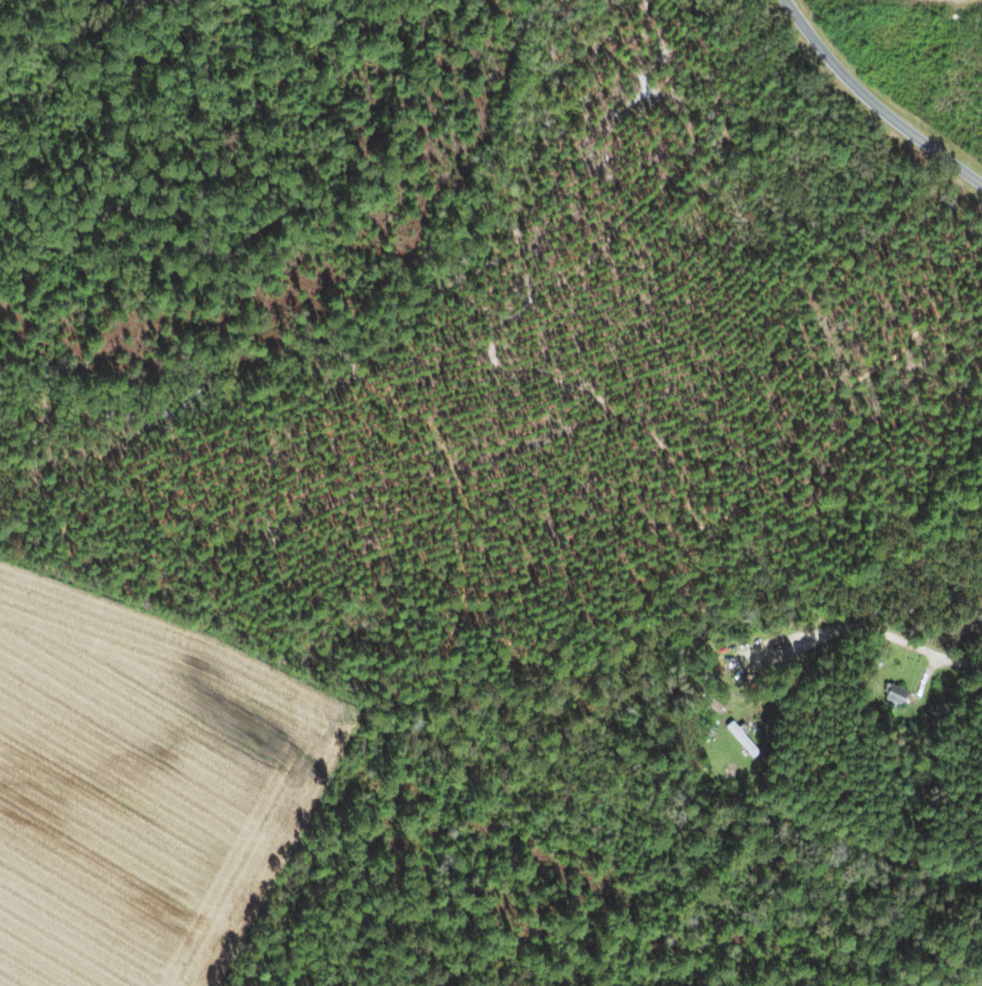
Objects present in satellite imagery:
road: (874, 102)
building: (893, 697)
building: (739, 739)
road: (877, 858)

